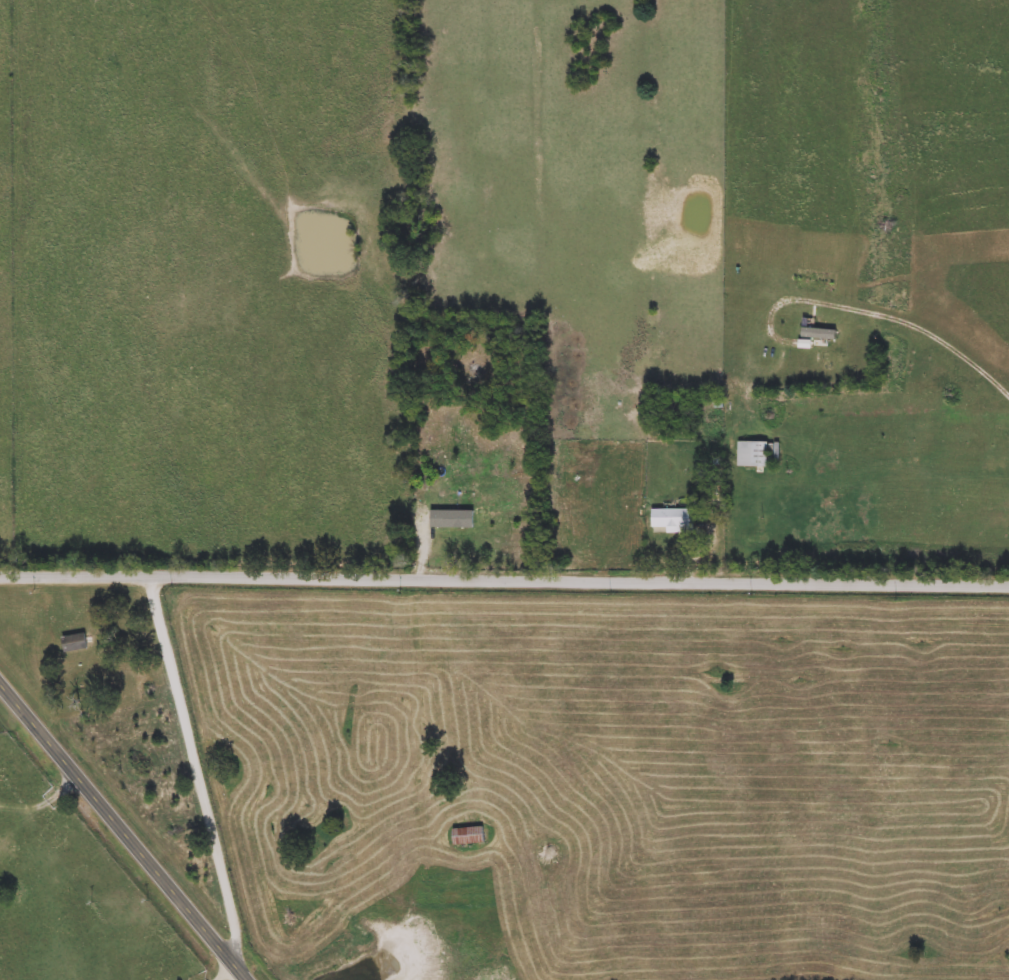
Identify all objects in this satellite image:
road: (883, 313)
building: (757, 454)
building: (673, 521)
road: (718, 521)
road: (504, 575)
building: (75, 643)
road: (199, 770)
road: (48, 800)
road: (130, 825)
building: (469, 836)

